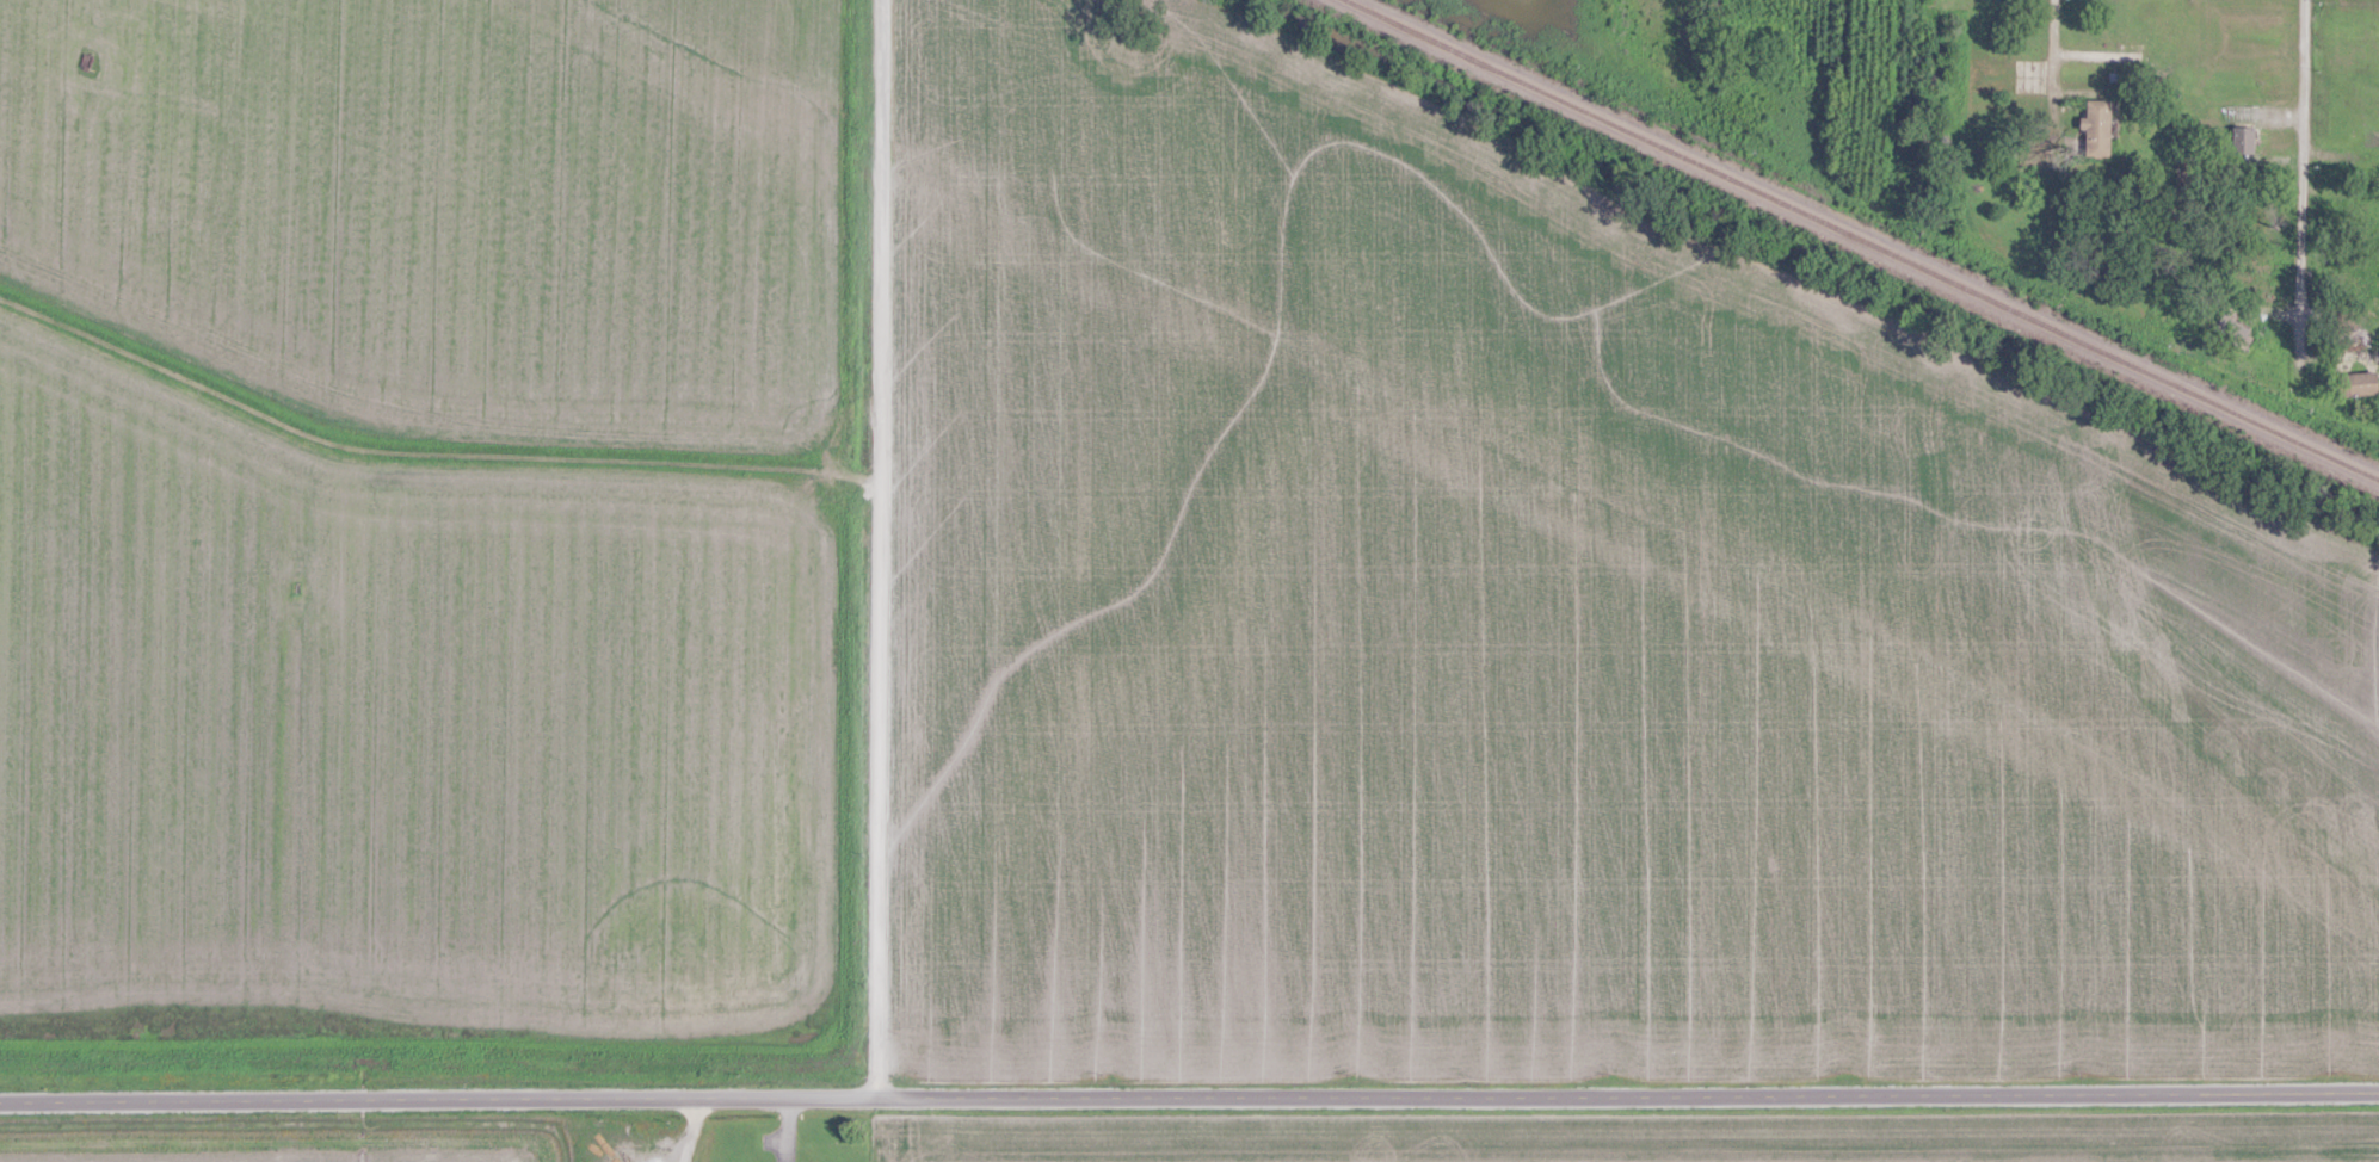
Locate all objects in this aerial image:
road: (2047, 103)
road: (2301, 163)
railway: (1862, 240)
road: (877, 549)
road: (1189, 1096)
road: (691, 1129)

